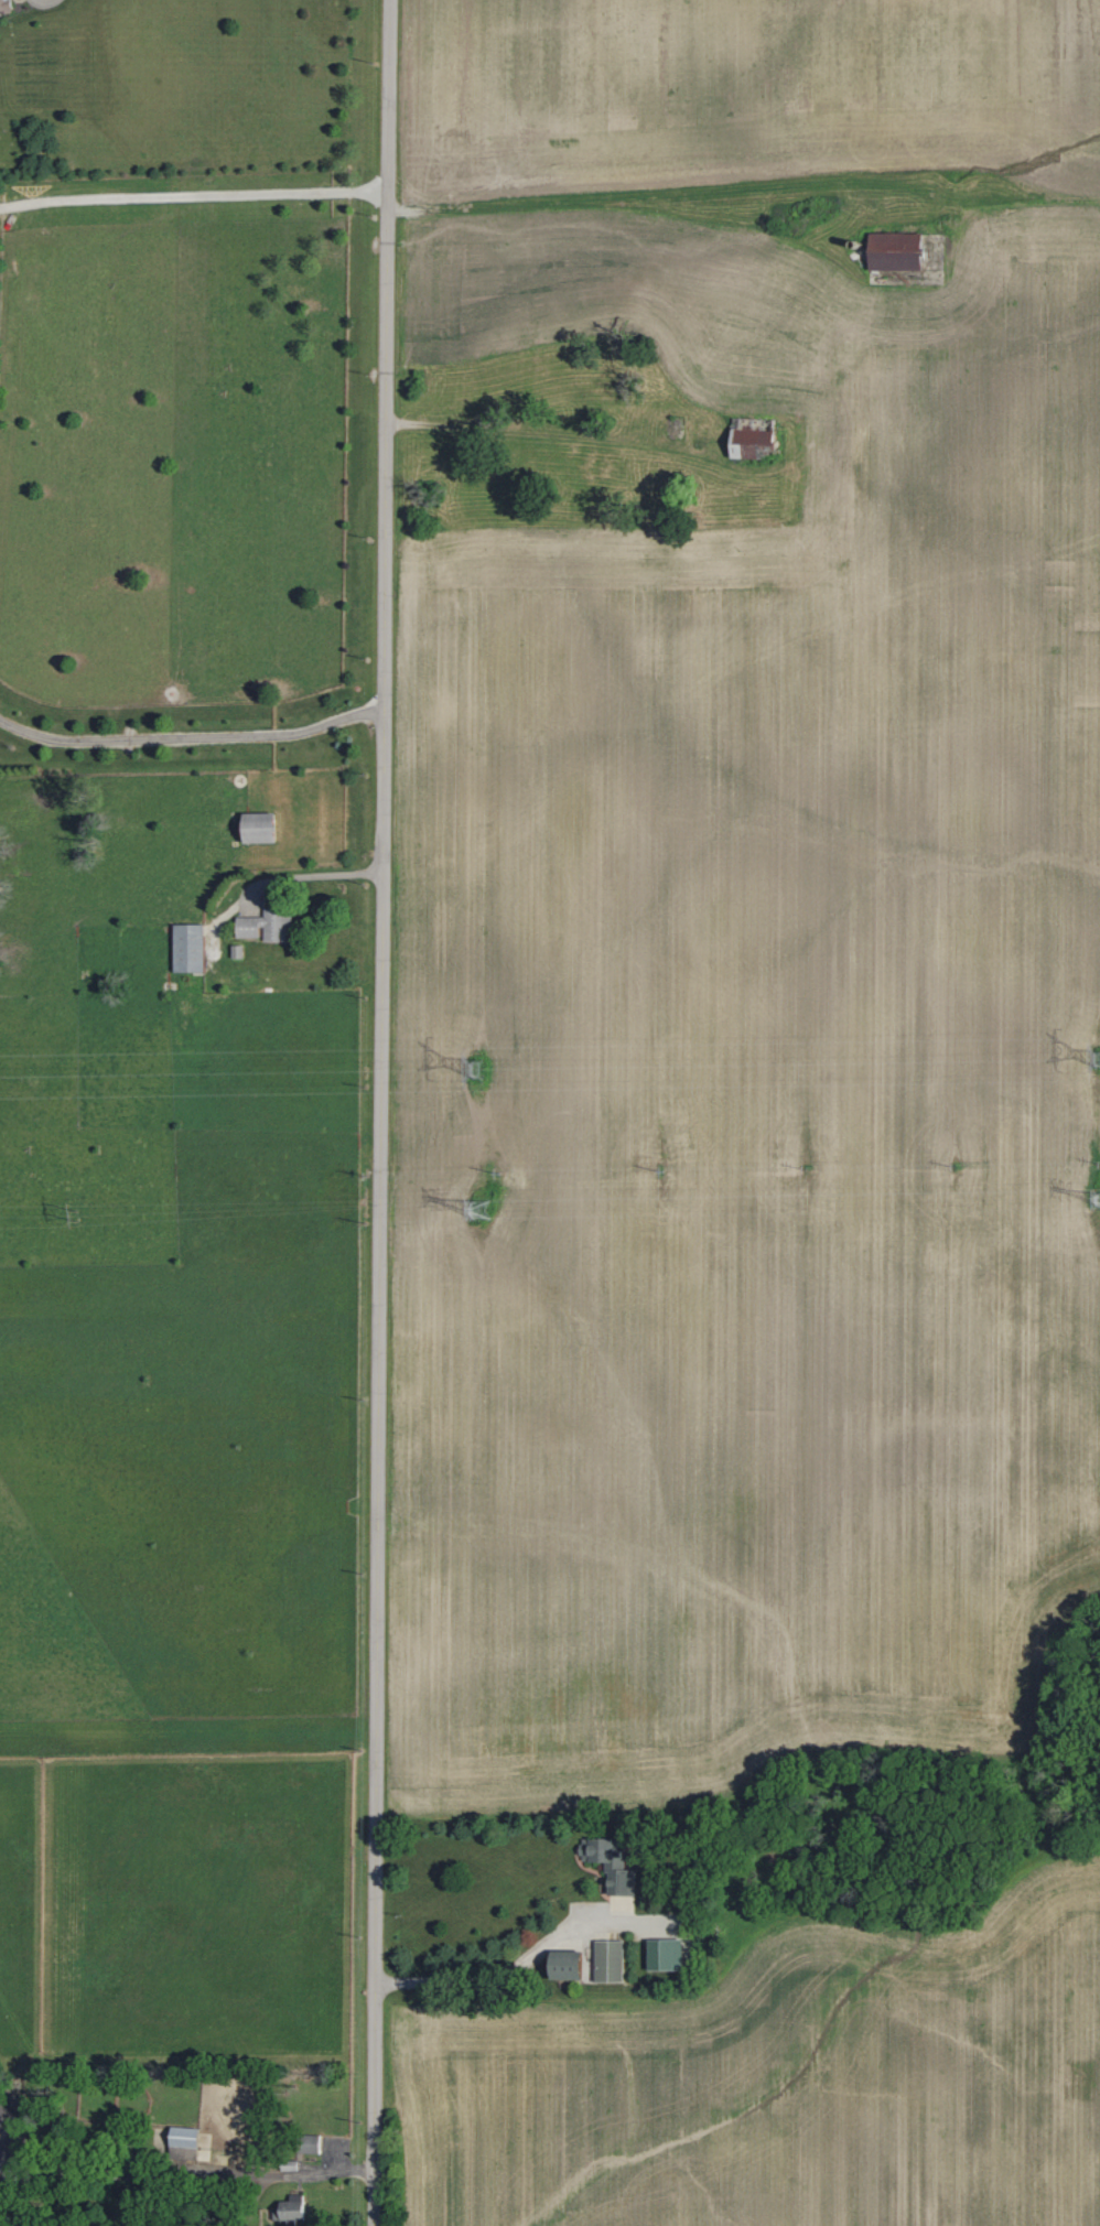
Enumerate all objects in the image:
building: (7, 6)
road: (617, 219)
building: (898, 252)
road: (544, 430)
road: (193, 733)
building: (262, 828)
road: (292, 878)
building: (267, 927)
building: (191, 947)
power tower: (1098, 1059)
power tower: (476, 1072)
road: (381, 1112)
power tower: (479, 1211)
power tower: (80, 1214)
building: (612, 1865)
building: (667, 1953)
building: (612, 1959)
building: (570, 1964)
road: (505, 1969)
building: (185, 2142)
building: (312, 2143)
building: (205, 2146)
road: (273, 2176)
building: (292, 2208)

